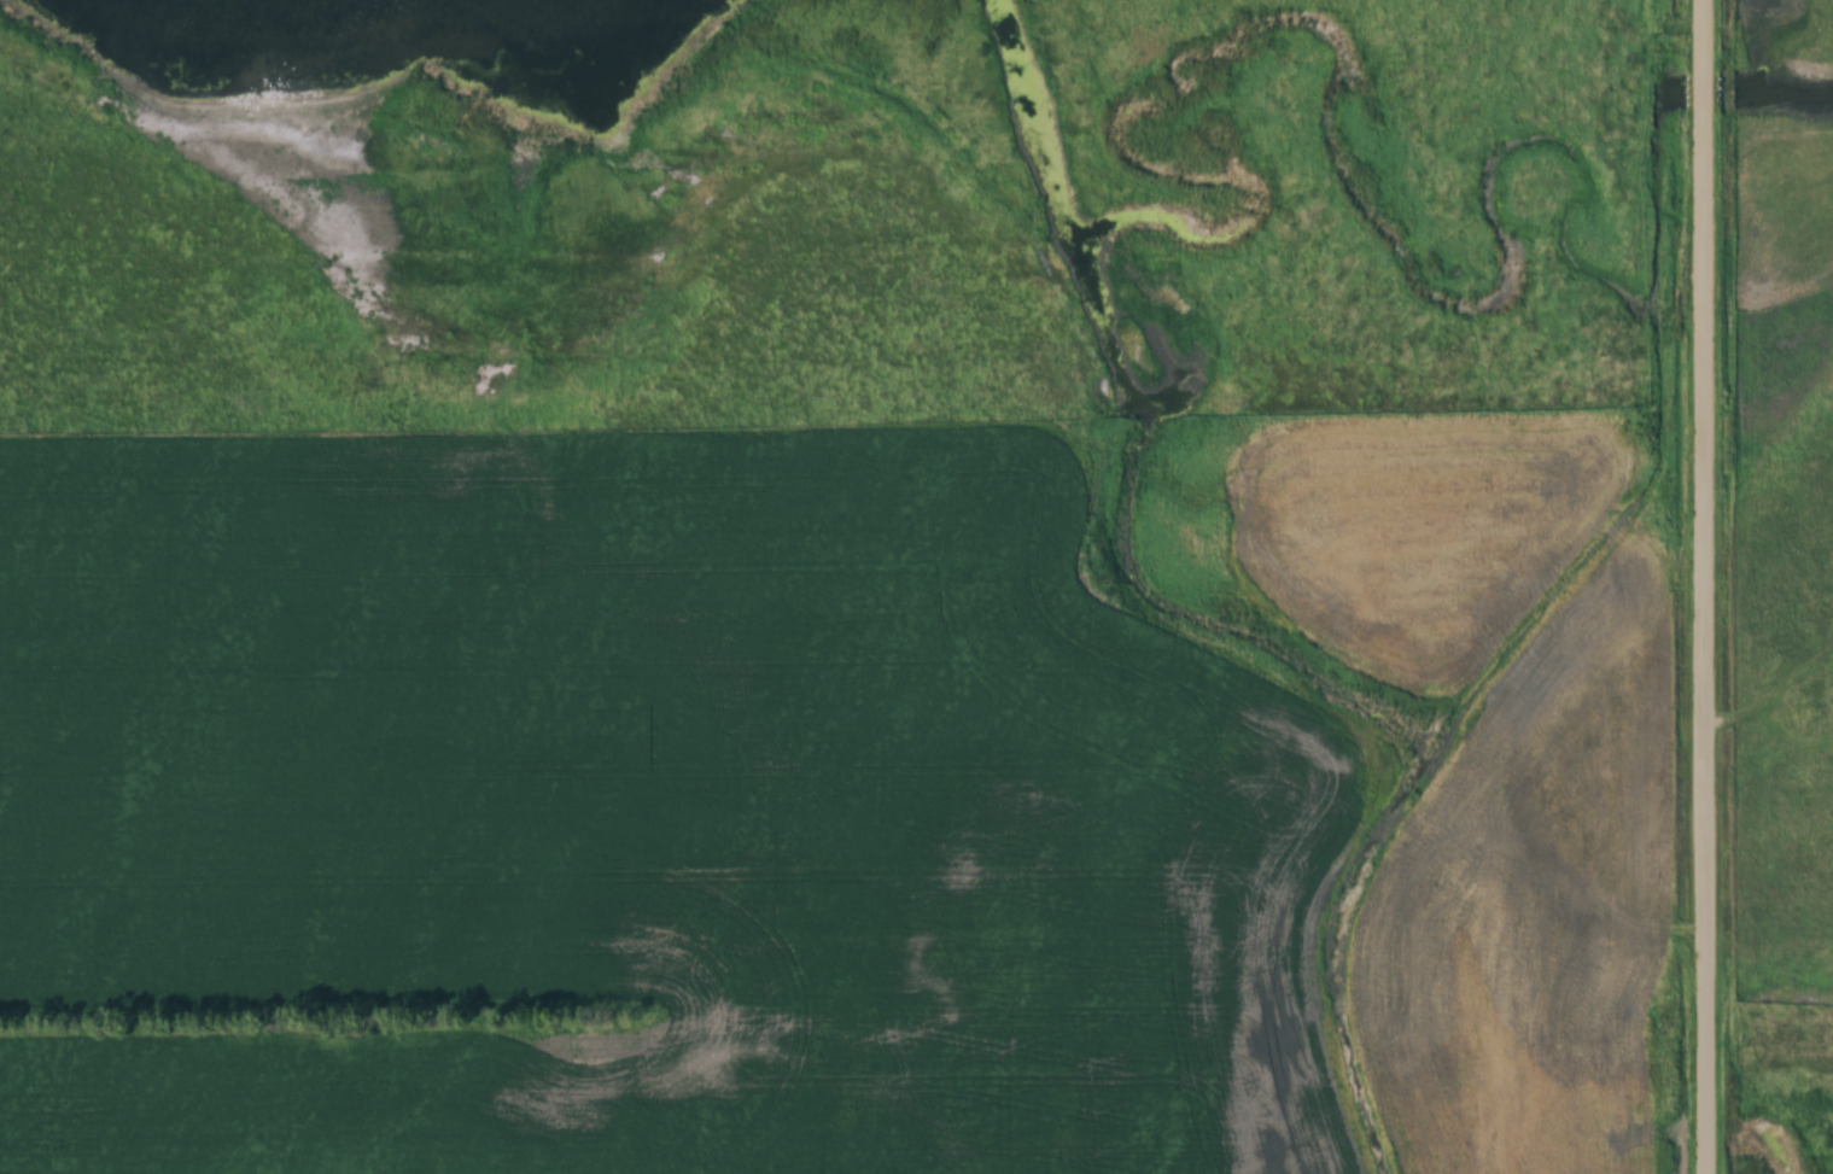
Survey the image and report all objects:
road: (1709, 586)

